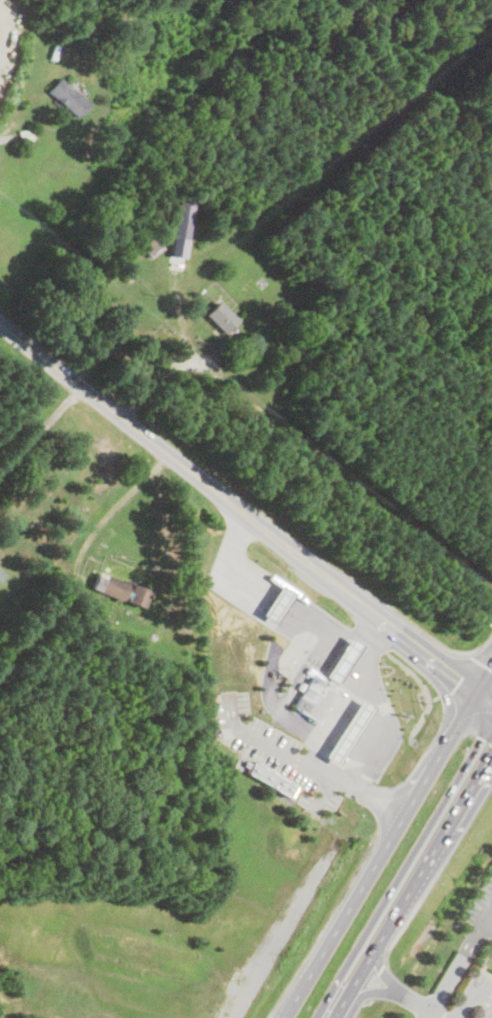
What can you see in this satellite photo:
building: (67, 96)
building: (220, 316)
road: (161, 376)
road: (40, 431)
road: (113, 508)
road: (244, 514)
building: (1, 573)
road: (281, 581)
building: (121, 590)
building: (277, 603)
building: (343, 659)
traffic signals: (487, 667)
traffic signals: (461, 679)
building: (313, 697)
road: (375, 699)
gas station: (302, 706)
road: (329, 713)
building: (348, 730)
road: (301, 764)
building: (270, 778)
road: (321, 791)
road: (386, 837)
road: (412, 886)
parking lot: (480, 902)
road: (484, 915)
road: (277, 939)
road: (456, 964)
road: (469, 993)
road: (397, 995)
parking lot: (475, 1003)
road: (423, 1015)

